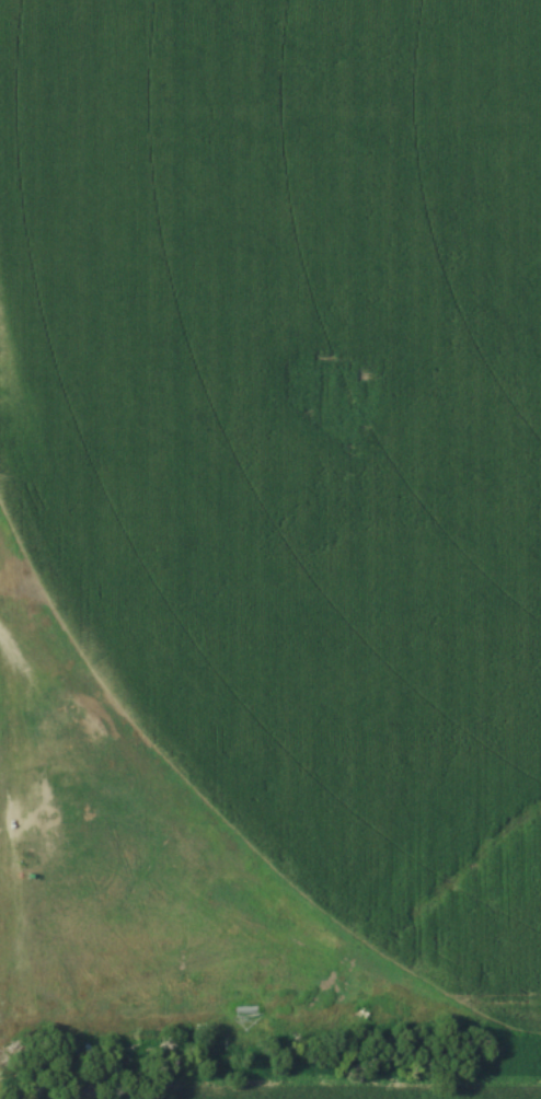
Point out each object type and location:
building: (245, 1029)

